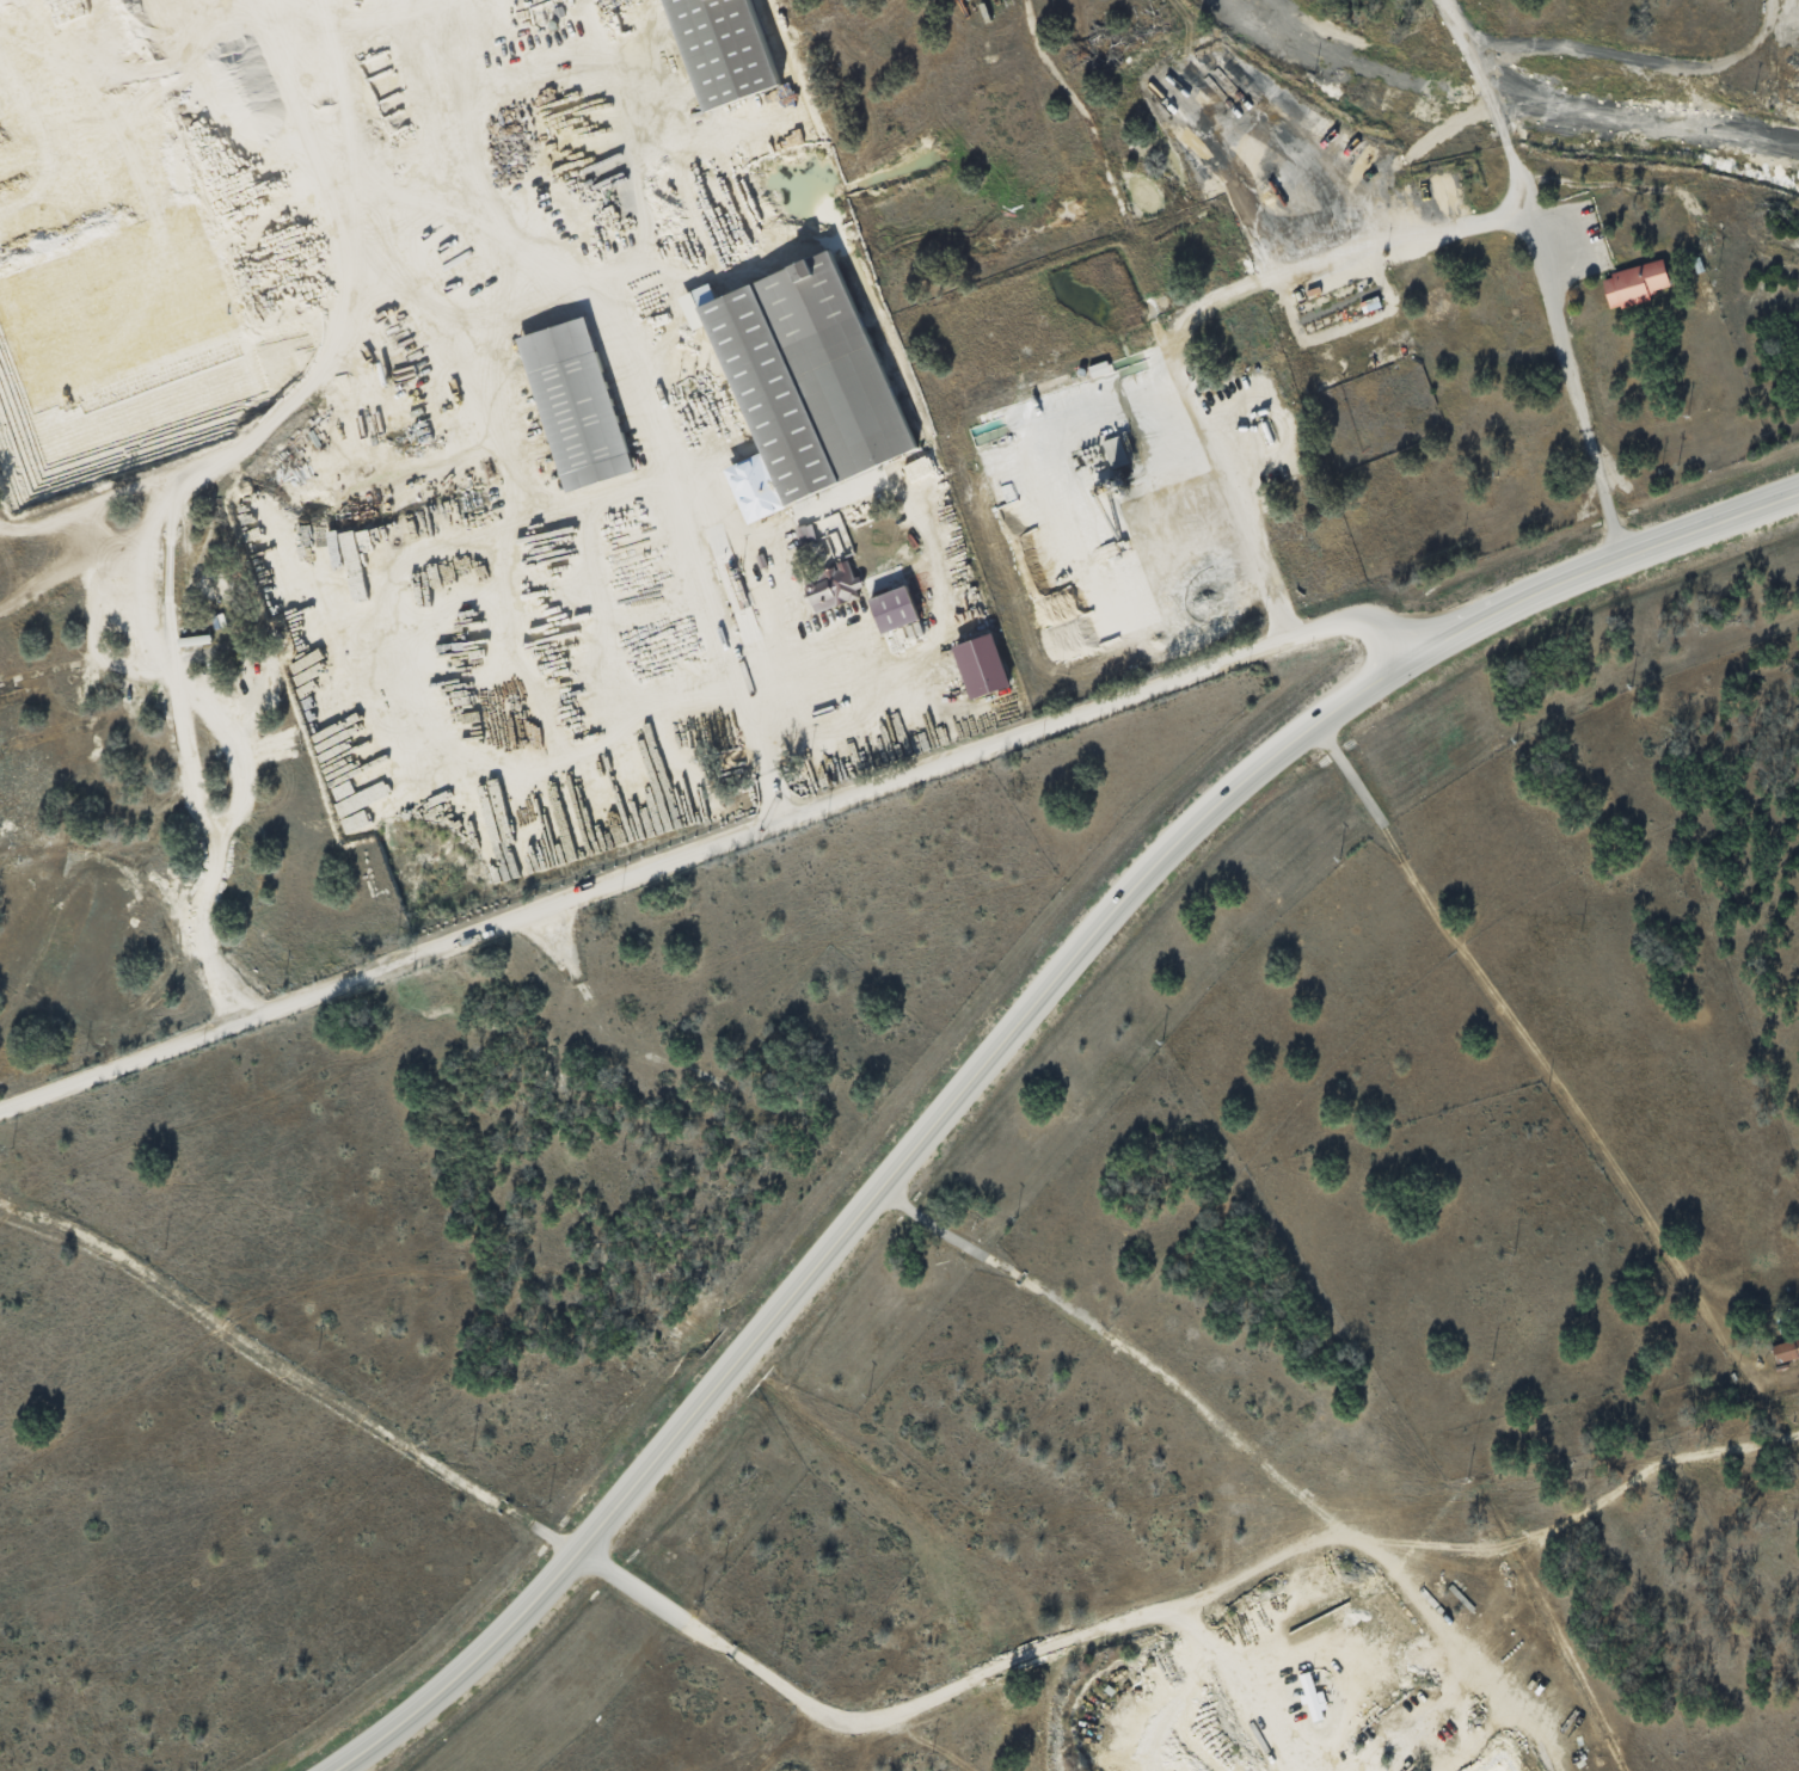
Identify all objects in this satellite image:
building: (729, 49)
road: (1496, 104)
road: (1289, 272)
building: (1634, 283)
building: (810, 376)
quarry: (540, 394)
building: (578, 404)
building: (1115, 450)
road: (1604, 493)
road: (1600, 566)
building: (835, 588)
building: (897, 609)
building: (984, 665)
road: (753, 706)
road: (707, 849)
road: (1530, 1045)
road: (862, 1205)
building: (1786, 1348)
quarry: (1267, 1691)

